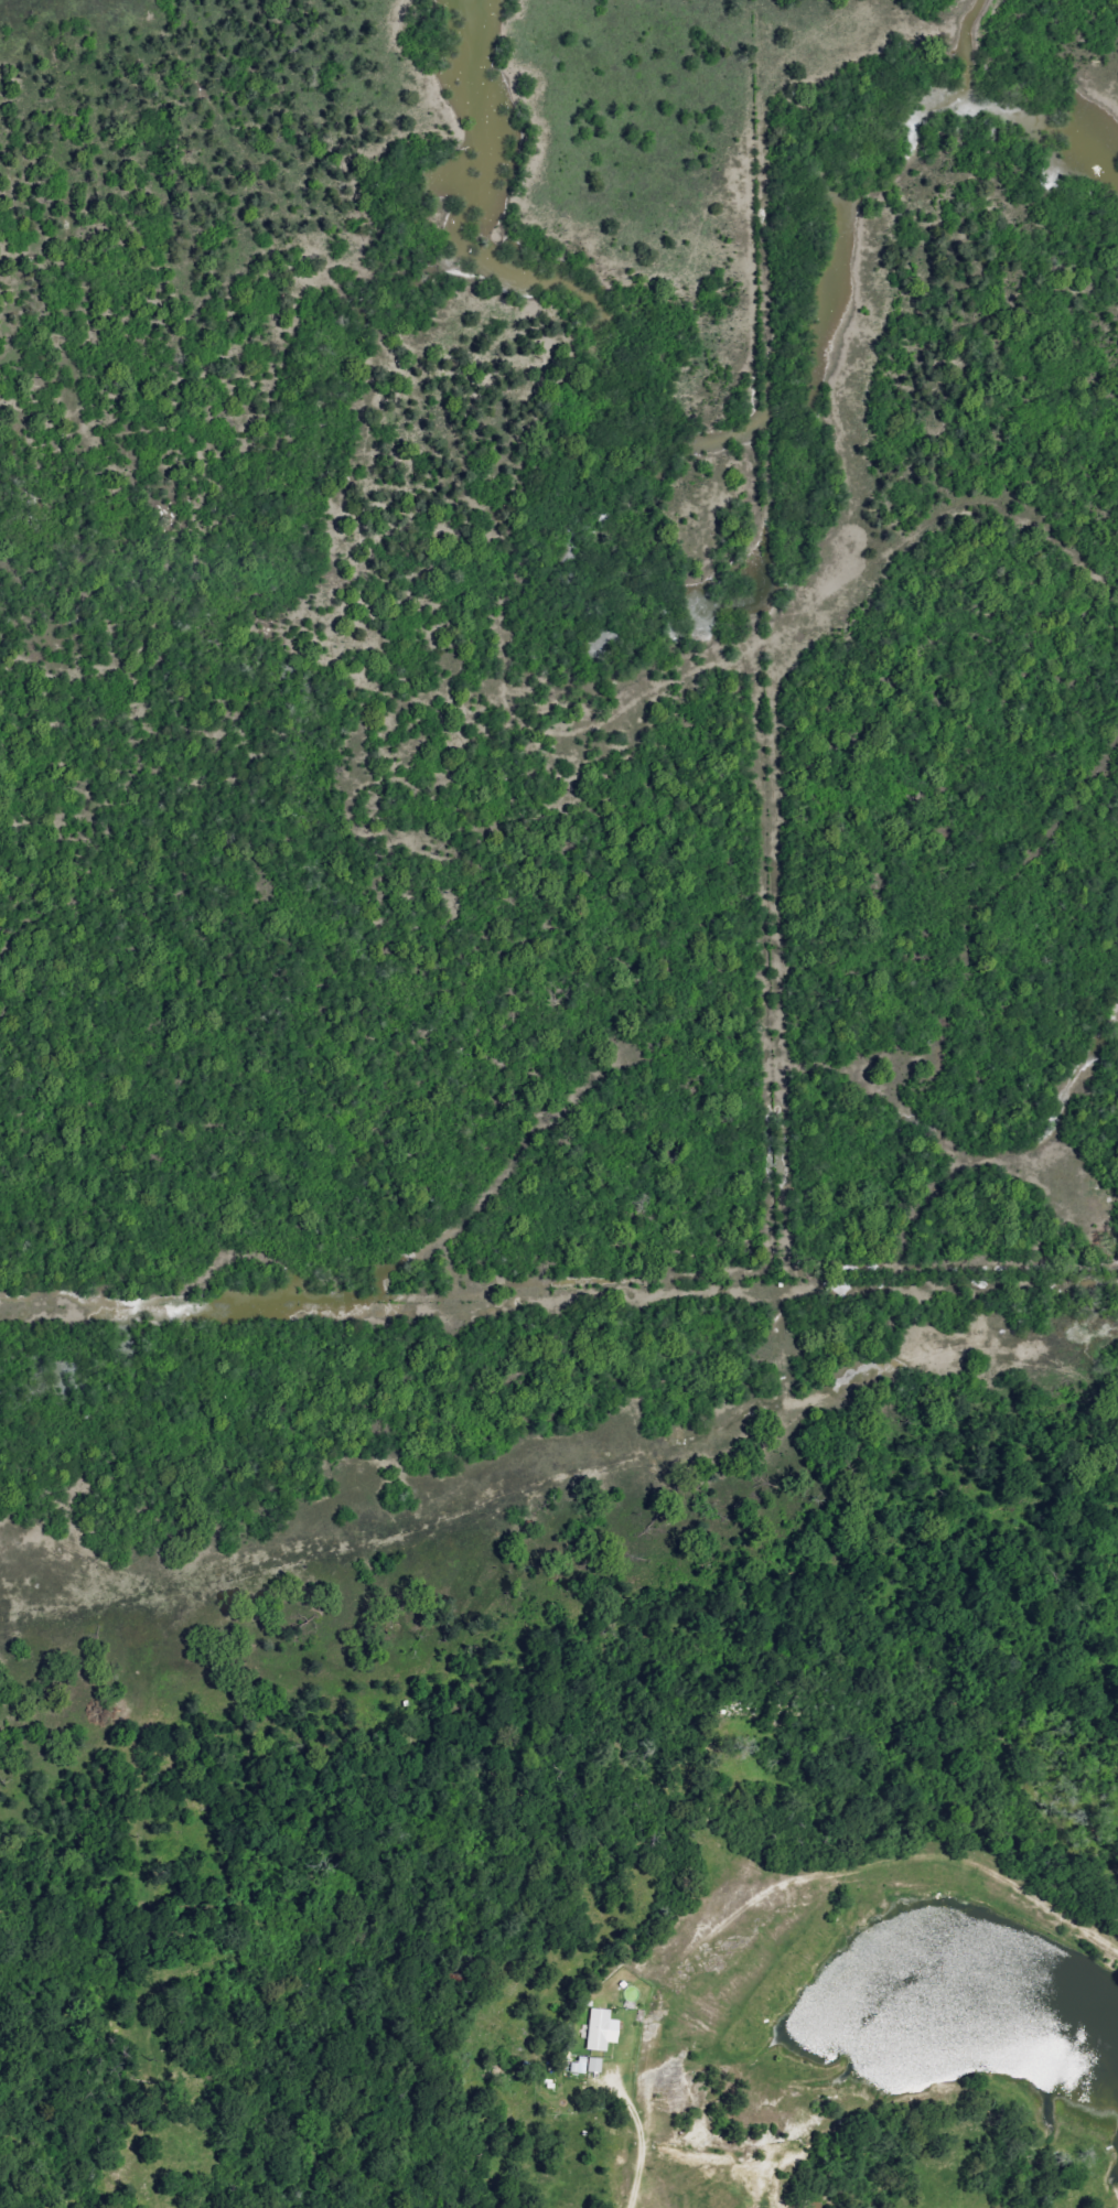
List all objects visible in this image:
building: (603, 2032)
building: (596, 2066)
road: (637, 2148)

